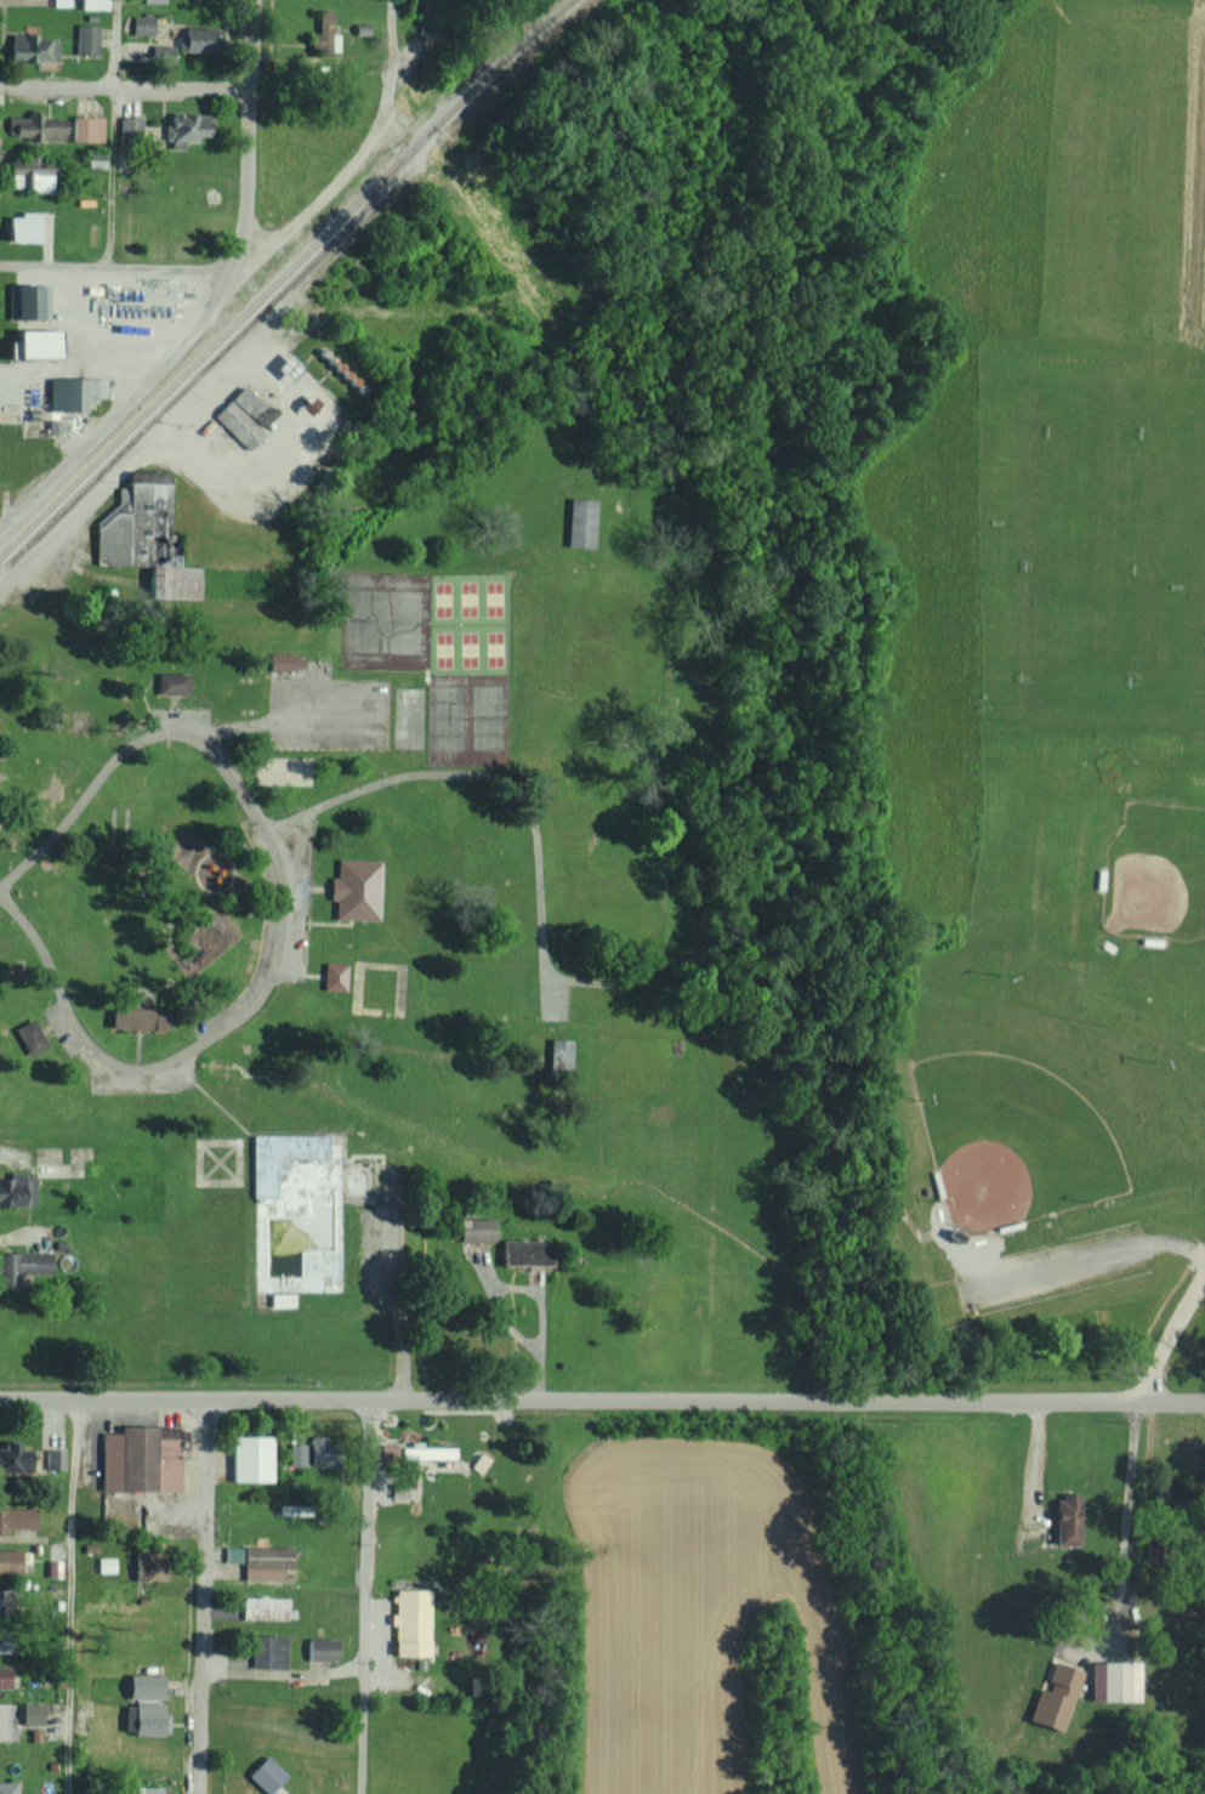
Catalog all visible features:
building: (150, 0)
building: (61, 2)
building: (93, 4)
building: (141, 24)
building: (319, 35)
building: (85, 39)
building: (197, 39)
road: (416, 40)
building: (32, 47)
building: (160, 53)
road: (125, 87)
park: (1184, 112)
building: (129, 125)
building: (30, 127)
building: (85, 129)
building: (184, 129)
road: (110, 134)
road: (359, 147)
building: (95, 159)
building: (29, 174)
building: (21, 226)
park: (1047, 240)
road: (114, 268)
railway: (284, 274)
building: (28, 300)
road: (214, 308)
park: (1199, 331)
building: (30, 341)
railway: (214, 359)
building: (284, 365)
building: (72, 392)
building: (243, 415)
building: (144, 475)
building: (579, 522)
building: (142, 539)
park: (1086, 558)
park: (439, 653)
building: (284, 662)
building: (171, 682)
parking lot: (328, 710)
park: (409, 716)
park: (686, 810)
park: (1116, 841)
building: (354, 889)
road: (1, 890)
road: (539, 921)
building: (332, 976)
road: (263, 986)
building: (135, 1018)
building: (29, 1035)
building: (558, 1055)
road: (211, 1100)
park: (1010, 1145)
building: (16, 1190)
building: (474, 1230)
building: (523, 1253)
road: (1097, 1259)
building: (22, 1265)
building: (279, 1299)
road: (1171, 1335)
road: (602, 1401)
building: (316, 1449)
building: (387, 1450)
building: (425, 1452)
building: (295, 1454)
building: (12, 1457)
building: (53, 1458)
building: (250, 1458)
building: (138, 1459)
building: (397, 1489)
building: (16, 1518)
building: (1065, 1518)
building: (231, 1554)
building: (8, 1560)
building: (265, 1562)
building: (106, 1565)
road: (203, 1596)
road: (73, 1597)
road: (366, 1597)
building: (5, 1601)
building: (263, 1607)
building: (409, 1622)
building: (319, 1648)
building: (267, 1651)
building: (2, 1676)
building: (1112, 1680)
building: (143, 1686)
building: (1053, 1697)
building: (30, 1714)
building: (144, 1719)
building: (4, 1721)
building: (266, 1776)
building: (7, 1787)
building: (146, 1789)

